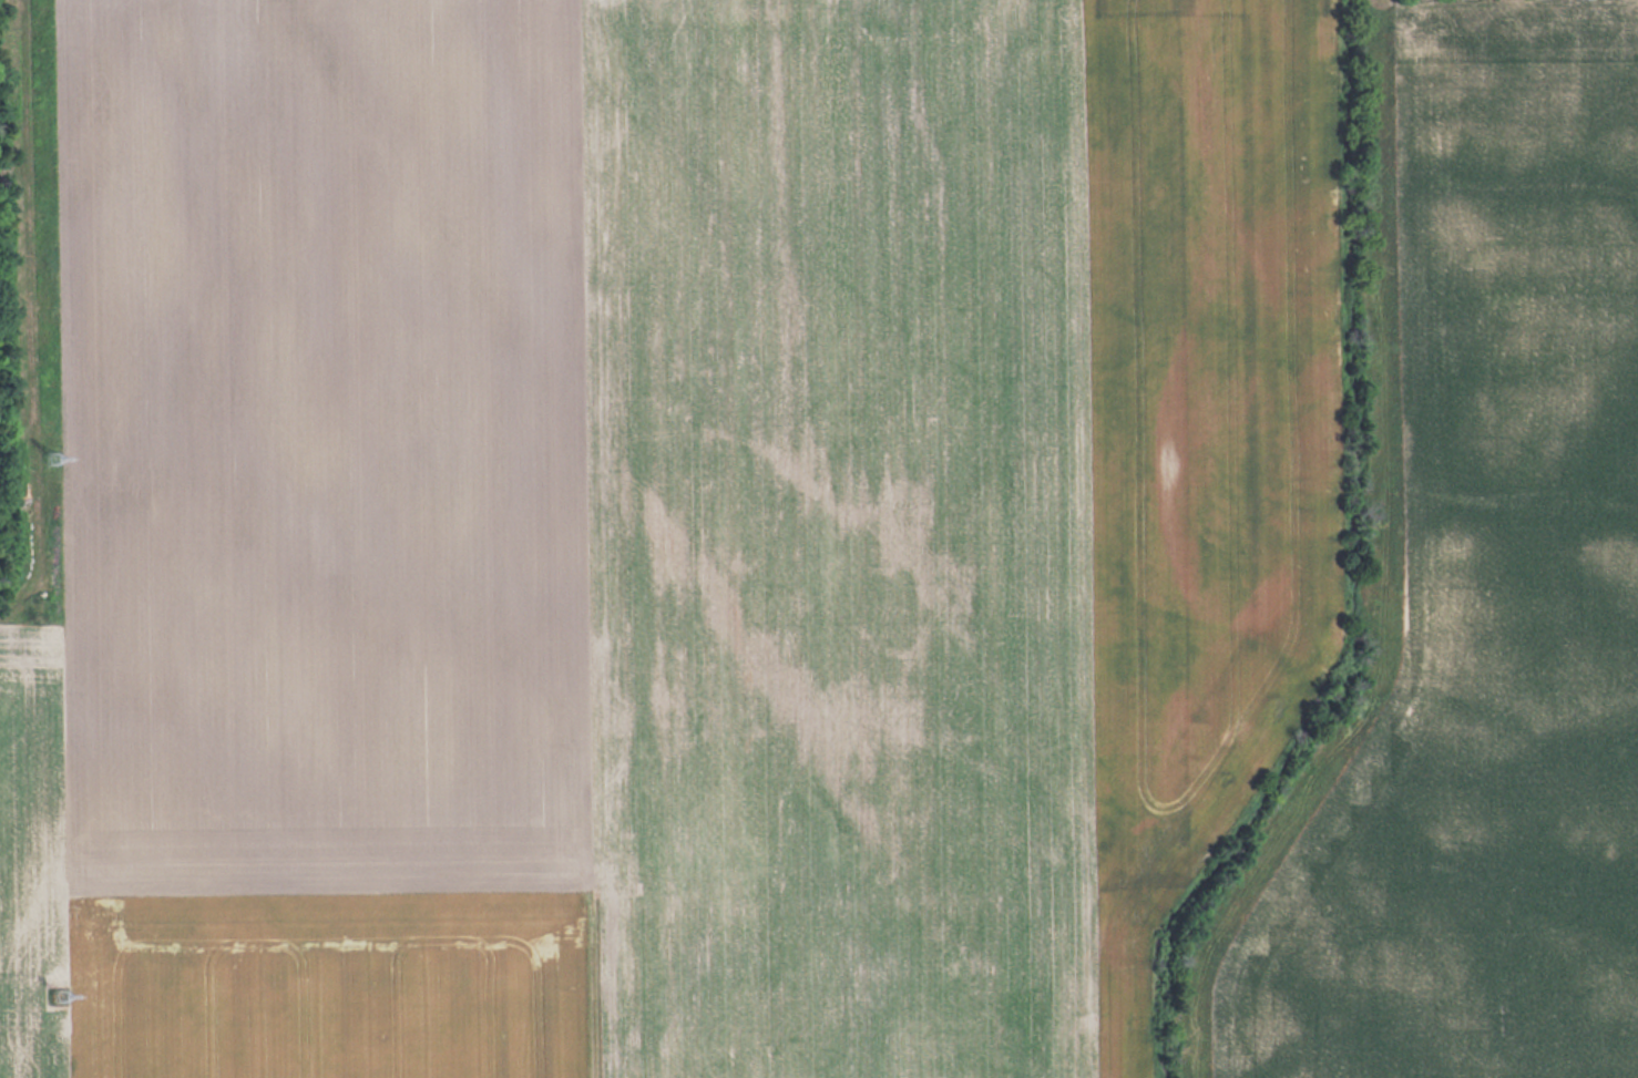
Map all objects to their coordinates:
power tower: (57, 461)
power tower: (62, 1000)

